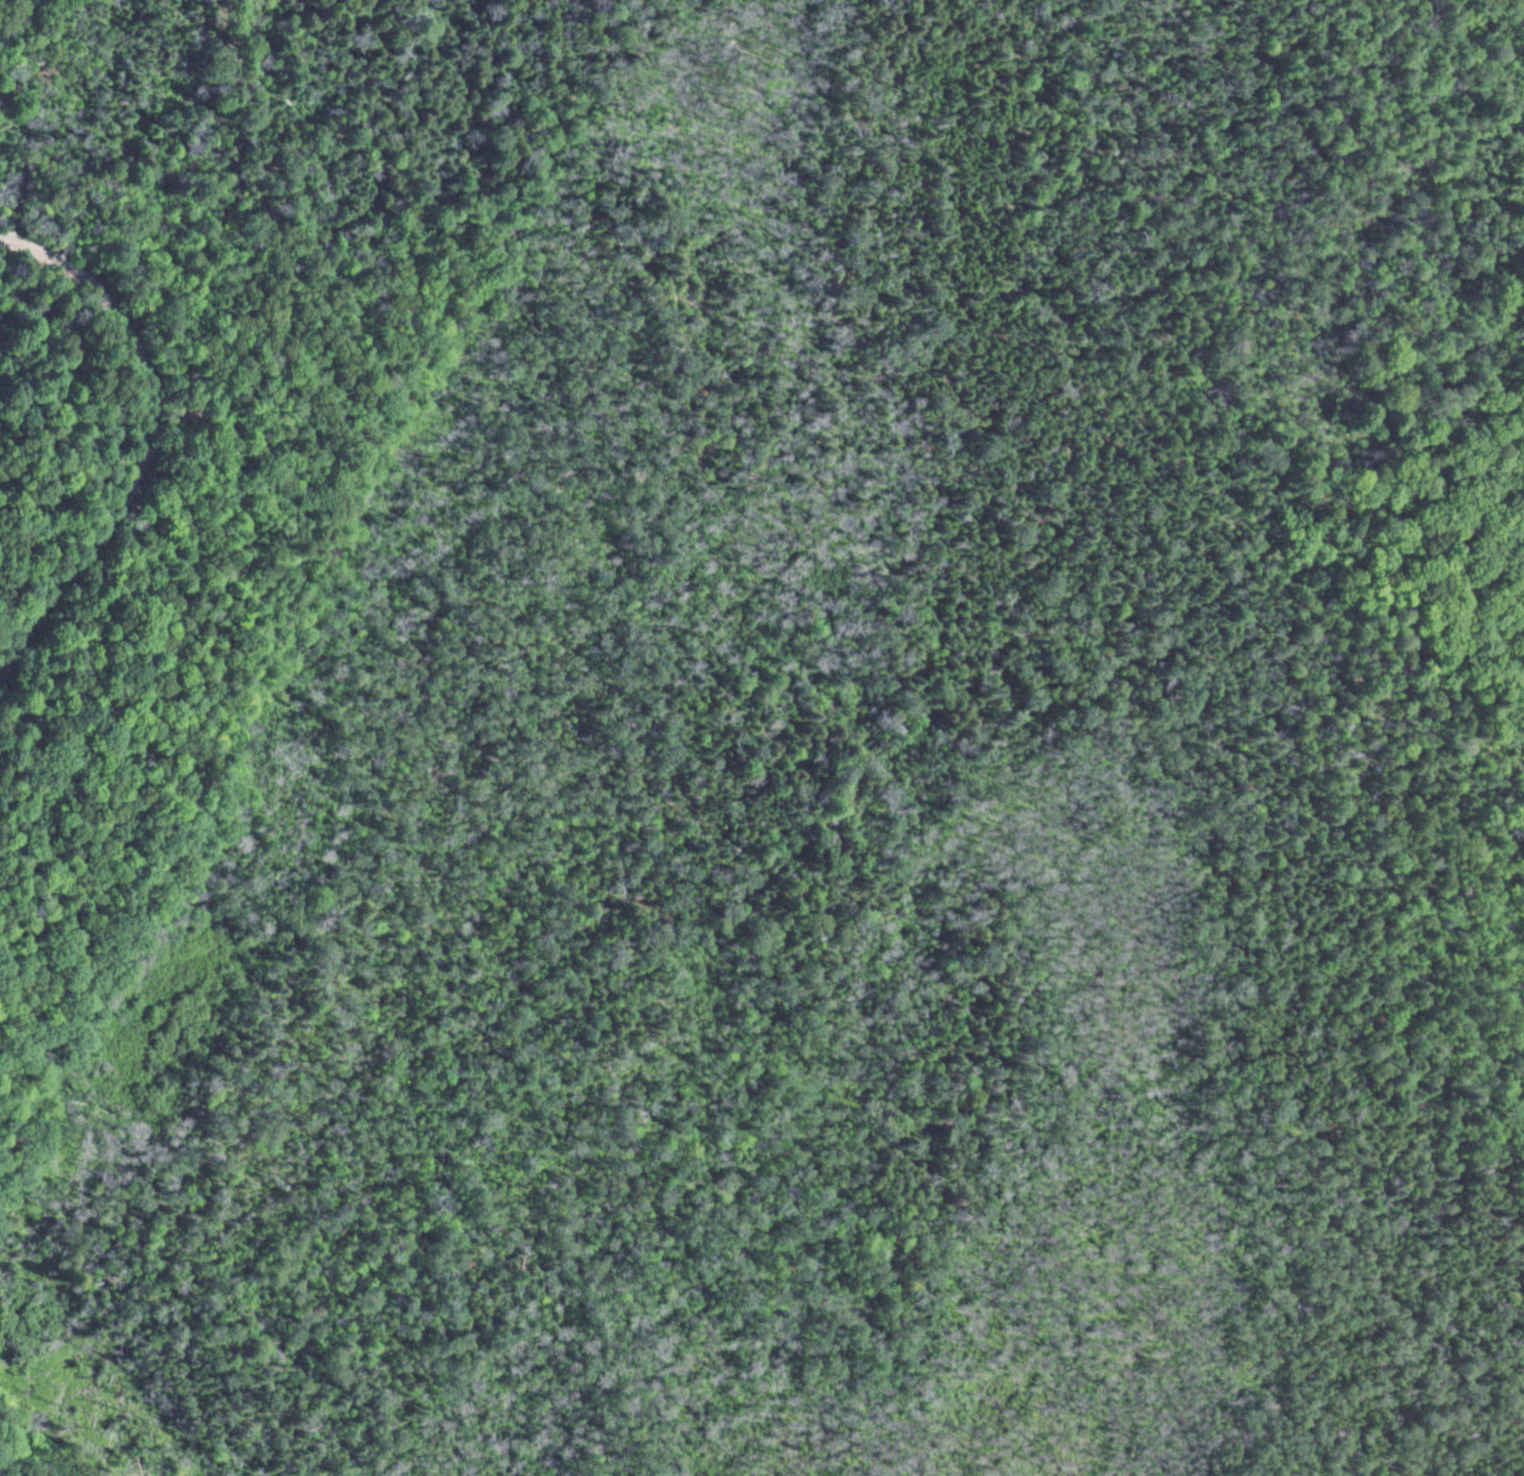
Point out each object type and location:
road: (145, 437)
road: (300, 504)
road: (189, 549)
park: (722, 602)

